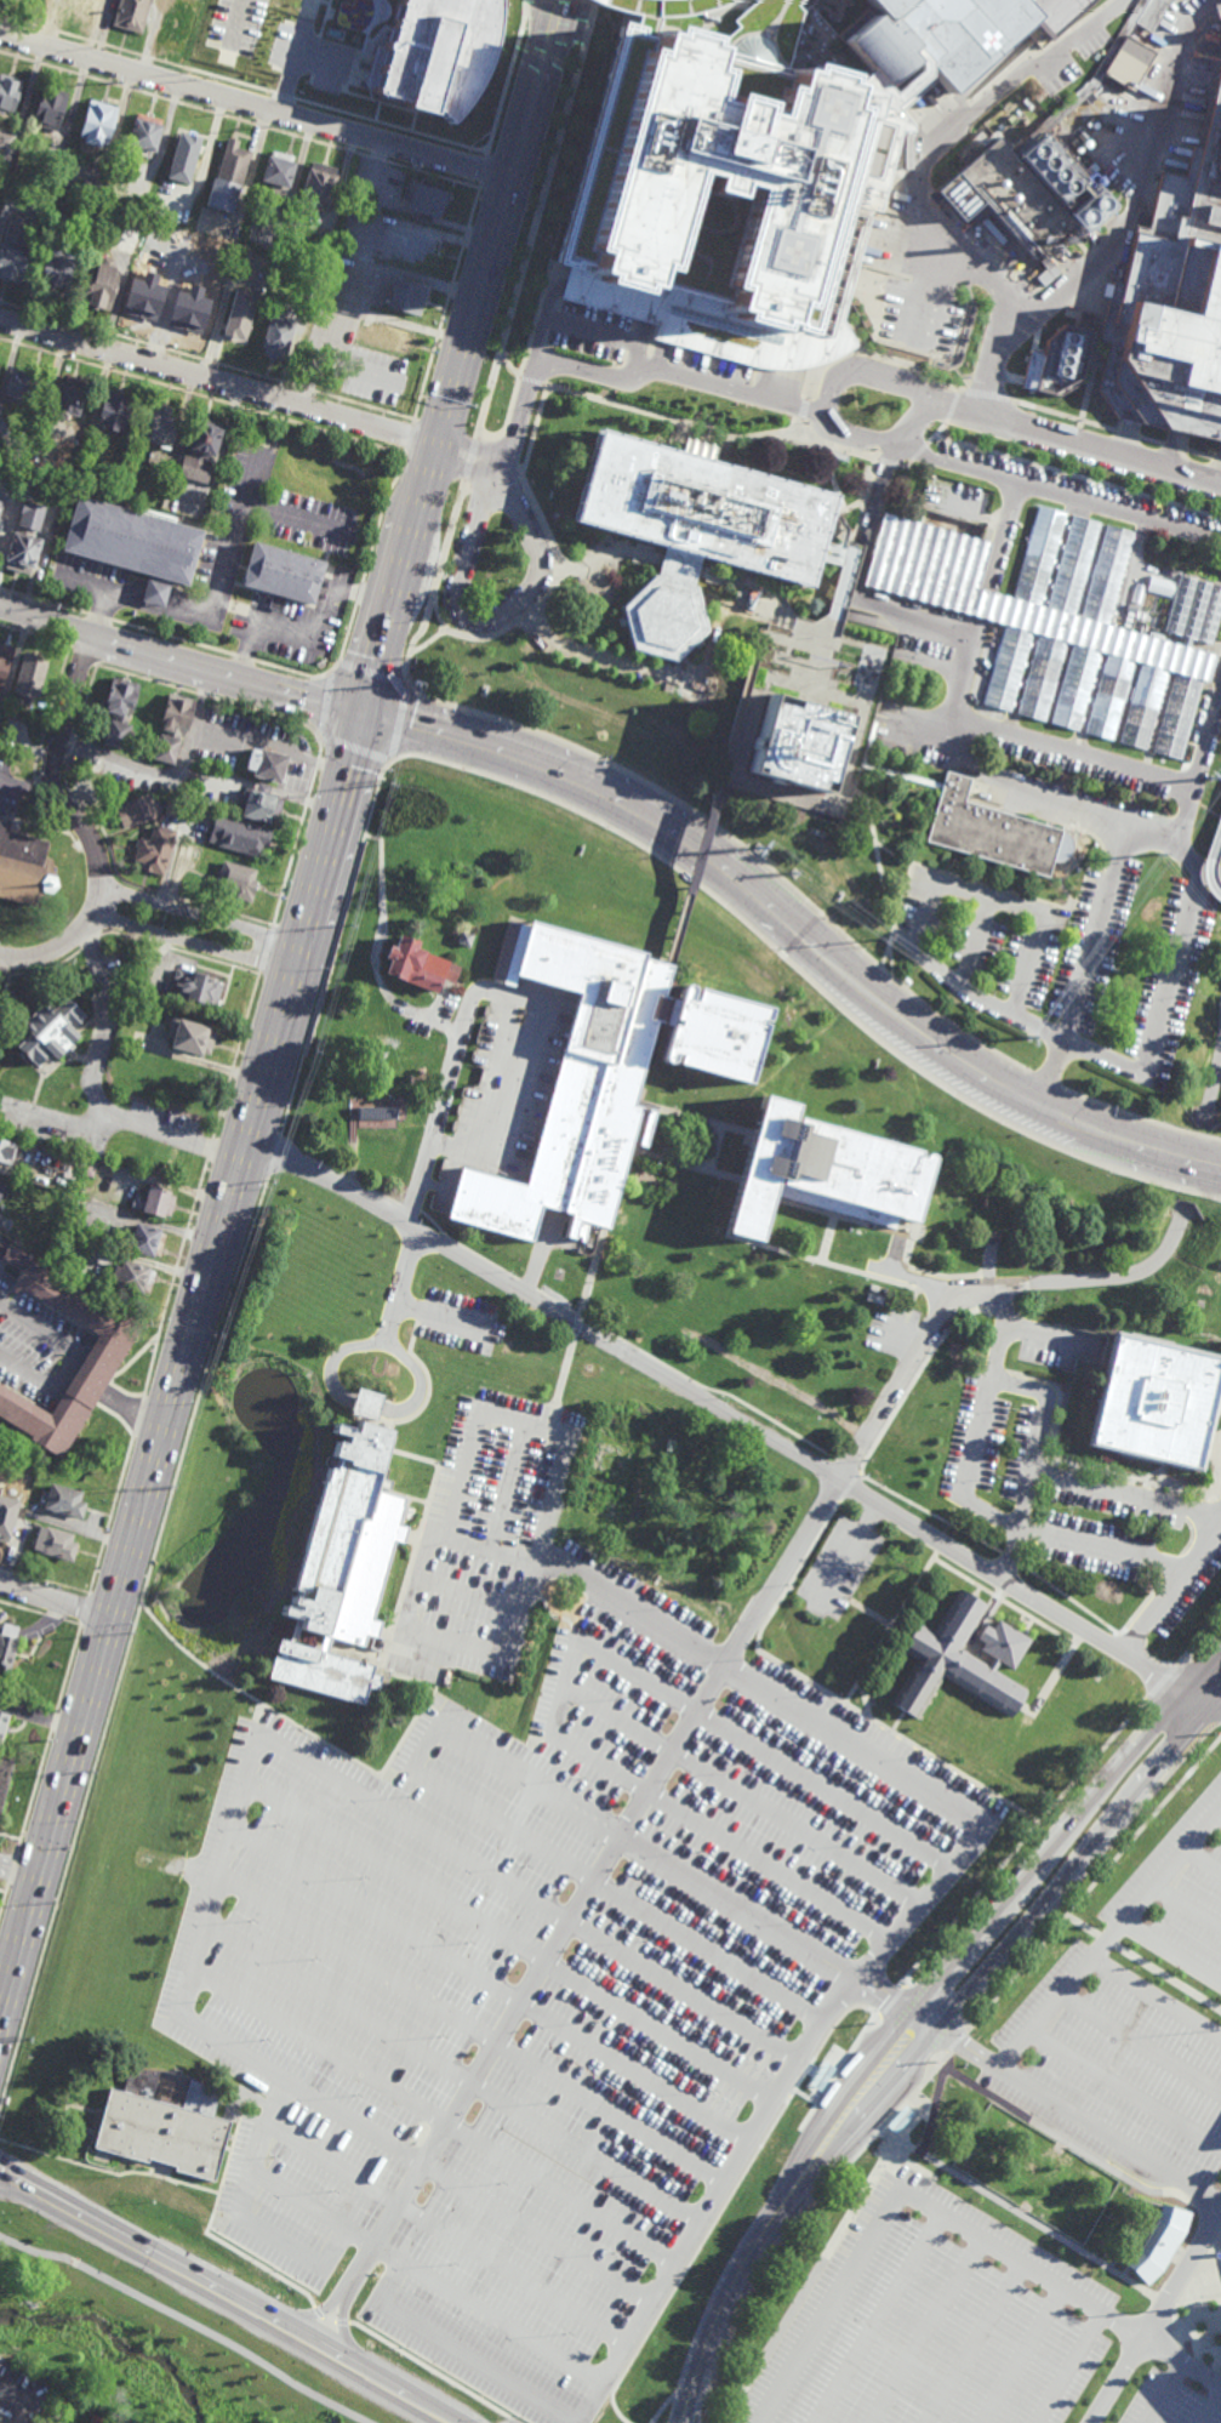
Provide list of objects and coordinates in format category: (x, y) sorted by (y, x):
building: (39, 0)
building: (1186, 1)
building: (1083, 2)
building: (87, 7)
road: (668, 8)
building: (654, 10)
building: (131, 15)
road: (238, 19)
building: (176, 21)
building: (946, 40)
road: (295, 56)
building: (434, 63)
road: (507, 78)
road: (243, 84)
building: (1219, 87)
road: (531, 90)
building: (7, 95)
road: (253, 106)
building: (49, 108)
helipad: (837, 119)
road: (240, 120)
building: (97, 122)
building: (144, 133)
road: (937, 138)
building: (183, 159)
building: (53, 164)
building: (275, 171)
road: (484, 173)
building: (1051, 173)
building: (715, 176)
building: (227, 177)
building: (316, 184)
building: (424, 200)
building: (53, 226)
road: (1125, 229)
building: (182, 233)
road: (466, 235)
building: (124, 241)
building: (80, 246)
building: (13, 251)
building: (187, 270)
building: (56, 272)
building: (101, 285)
road: (936, 289)
road: (450, 291)
building: (405, 298)
road: (600, 298)
building: (143, 301)
building: (1172, 302)
road: (700, 308)
building: (184, 315)
building: (243, 317)
road: (594, 330)
road: (719, 332)
building: (275, 337)
building: (386, 338)
road: (503, 342)
road: (964, 349)
road: (875, 355)
road: (1094, 355)
building: (1060, 360)
road: (430, 361)
road: (206, 363)
road: (513, 371)
road: (519, 372)
road: (599, 377)
road: (965, 378)
road: (216, 380)
building: (21, 388)
road: (201, 395)
road: (988, 398)
building: (67, 401)
road: (955, 407)
road: (803, 410)
building: (114, 412)
road: (827, 417)
road: (1065, 417)
road: (661, 418)
building: (155, 428)
road: (797, 428)
road: (942, 429)
road: (1126, 434)
road: (409, 438)
building: (87, 440)
road: (1075, 441)
road: (1151, 441)
road: (433, 445)
road: (1074, 445)
building: (199, 447)
road: (1175, 447)
road: (835, 449)
road: (918, 452)
road: (1200, 455)
road: (1217, 458)
road: (889, 462)
road: (907, 464)
road: (1072, 468)
road: (1071, 474)
road: (1054, 496)
building: (0, 503)
road: (295, 517)
road: (380, 517)
building: (702, 532)
building: (24, 535)
road: (1000, 540)
building: (132, 543)
road: (226, 551)
building: (1039, 558)
road: (557, 561)
building: (1073, 566)
building: (279, 576)
building: (1107, 576)
road: (855, 578)
road: (358, 594)
road: (153, 597)
building: (951, 597)
road: (107, 599)
road: (42, 600)
road: (982, 605)
building: (1196, 612)
road: (98, 617)
road: (490, 618)
road: (34, 634)
road: (312, 637)
road: (172, 638)
road: (346, 640)
road: (82, 656)
building: (4, 657)
road: (181, 659)
road: (244, 659)
power tower: (412, 668)
building: (1009, 669)
road: (291, 671)
road: (372, 672)
building: (28, 673)
building: (1042, 678)
building: (1077, 689)
road: (209, 697)
building: (1111, 697)
road: (325, 701)
building: (1145, 707)
building: (118, 711)
traffic signals: (364, 712)
building: (1179, 718)
road: (399, 723)
building: (172, 725)
road: (896, 728)
road: (928, 729)
building: (6, 737)
building: (795, 741)
road: (273, 743)
road: (354, 749)
road: (1074, 752)
building: (92, 763)
building: (264, 763)
road: (535, 763)
road: (1198, 766)
road: (719, 770)
road: (170, 772)
road: (991, 776)
power tower: (1213, 777)
road: (27, 785)
building: (258, 803)
building: (137, 809)
road: (80, 825)
road: (299, 827)
building: (991, 831)
building: (238, 834)
road: (737, 842)
road: (700, 846)
building: (154, 848)
road: (873, 848)
building: (698, 849)
power tower: (758, 849)
road: (889, 854)
power tower: (1158, 855)
road: (1187, 859)
road: (1210, 866)
building: (23, 867)
building: (235, 879)
road: (1062, 884)
road: (1048, 902)
road: (1006, 903)
road: (201, 918)
power tower: (352, 928)
road: (1092, 931)
building: (463, 937)
power tower: (879, 941)
road: (193, 943)
road: (976, 943)
road: (267, 950)
road: (332, 950)
parking lot: (1062, 963)
building: (417, 965)
road: (1175, 973)
road: (803, 976)
building: (196, 987)
road: (497, 996)
road: (983, 999)
road: (286, 1000)
road: (437, 1002)
road: (395, 1003)
building: (49, 1031)
power tower: (1029, 1036)
building: (190, 1037)
power tower: (316, 1045)
road: (938, 1045)
road: (235, 1056)
road: (1103, 1059)
road: (1052, 1073)
building: (601, 1076)
road: (1045, 1081)
road: (92, 1091)
road: (1213, 1091)
road: (655, 1107)
building: (378, 1114)
road: (1141, 1119)
road: (724, 1127)
road: (646, 1130)
road: (738, 1130)
road: (210, 1150)
building: (6, 1152)
road: (646, 1155)
road: (274, 1157)
building: (87, 1168)
road: (338, 1173)
building: (825, 1173)
road: (726, 1175)
road: (647, 1179)
power tower: (276, 1185)
building: (2, 1191)
building: (155, 1202)
road: (411, 1208)
building: (5, 1221)
road: (881, 1230)
road: (730, 1236)
road: (825, 1238)
building: (146, 1242)
road: (537, 1260)
road: (4, 1262)
road: (844, 1268)
road: (1142, 1270)
road: (868, 1273)
road: (932, 1273)
building: (132, 1278)
road: (173, 1279)
road: (915, 1283)
road: (443, 1318)
road: (582, 1321)
road: (901, 1329)
power tower: (223, 1339)
road: (920, 1339)
road: (384, 1340)
road: (1046, 1341)
road: (35, 1352)
building: (103, 1356)
road: (420, 1385)
building: (1157, 1398)
parking garage: (1157, 1398)
road: (366, 1403)
road: (720, 1408)
road: (131, 1410)
road: (138, 1418)
road: (553, 1420)
road: (985, 1420)
road: (798, 1437)
building: (28, 1452)
road: (1033, 1463)
road: (510, 1486)
road: (1123, 1493)
power tower: (175, 1495)
building: (65, 1500)
building: (8, 1511)
road: (110, 1516)
building: (27, 1528)
road: (540, 1537)
building: (56, 1543)
road: (1100, 1549)
road: (845, 1555)
building: (344, 1560)
road: (1170, 1569)
road: (1170, 1579)
road: (584, 1584)
road: (469, 1597)
road: (55, 1600)
road: (1004, 1602)
road: (84, 1609)
road: (867, 1619)
road: (888, 1636)
power tower: (136, 1640)
road: (130, 1641)
road: (101, 1646)
building: (7, 1647)
building: (962, 1658)
road: (68, 1670)
road: (798, 1676)
road: (1055, 1677)
road: (1205, 1693)
road: (669, 1694)
road: (866, 1715)
road: (53, 1723)
building: (4, 1726)
road: (890, 1734)
road: (943, 1767)
building: (5, 1777)
power tower: (98, 1777)
road: (34, 1791)
road: (736, 1791)
road: (938, 1797)
road: (1066, 1797)
road: (227, 1812)
road: (1219, 1812)
road: (1065, 1831)
road: (1204, 1857)
road: (657, 1859)
road: (771, 1863)
road: (18, 1868)
road: (12, 1869)
road: (1077, 1870)
road: (592, 1886)
road: (617, 1895)
road: (4, 1899)
road: (1187, 1904)
power tower: (62, 1909)
road: (1107, 1933)
road: (508, 1935)
road: (1171, 1948)
road: (1034, 1952)
parking lot: (571, 1959)
road: (486, 1983)
road: (1156, 1991)
road: (468, 2026)
parking lot: (1131, 2033)
road: (1139, 2040)
power tower: (23, 2041)
road: (447, 2070)
road: (280, 2075)
road: (1125, 2083)
road: (913, 2094)
road: (1073, 2111)
power tower: (1, 2120)
building: (165, 2121)
road: (230, 2153)
road: (332, 2166)
road: (740, 2183)
road: (792, 2191)
road: (298, 2201)
road: (250, 2224)
road: (535, 2233)
road: (116, 2234)
building: (1159, 2242)
road: (252, 2257)
road: (765, 2263)
road: (510, 2273)
road: (1055, 2280)
road: (652, 2293)
road: (831, 2304)
road: (318, 2311)
road: (1158, 2317)
road: (883, 2319)
road: (188, 2320)
road: (342, 2327)
road: (926, 2330)
road: (974, 2342)
parking lot: (992, 2347)
road: (1021, 2354)
road: (352, 2356)
road: (473, 2360)
road: (332, 2364)
building: (0, 2365)
road: (1068, 2366)
road: (677, 2390)
road: (701, 2390)
road: (1165, 2391)
road: (683, 2401)
road: (690, 2401)
road: (19, 2404)
road: (1213, 2410)

